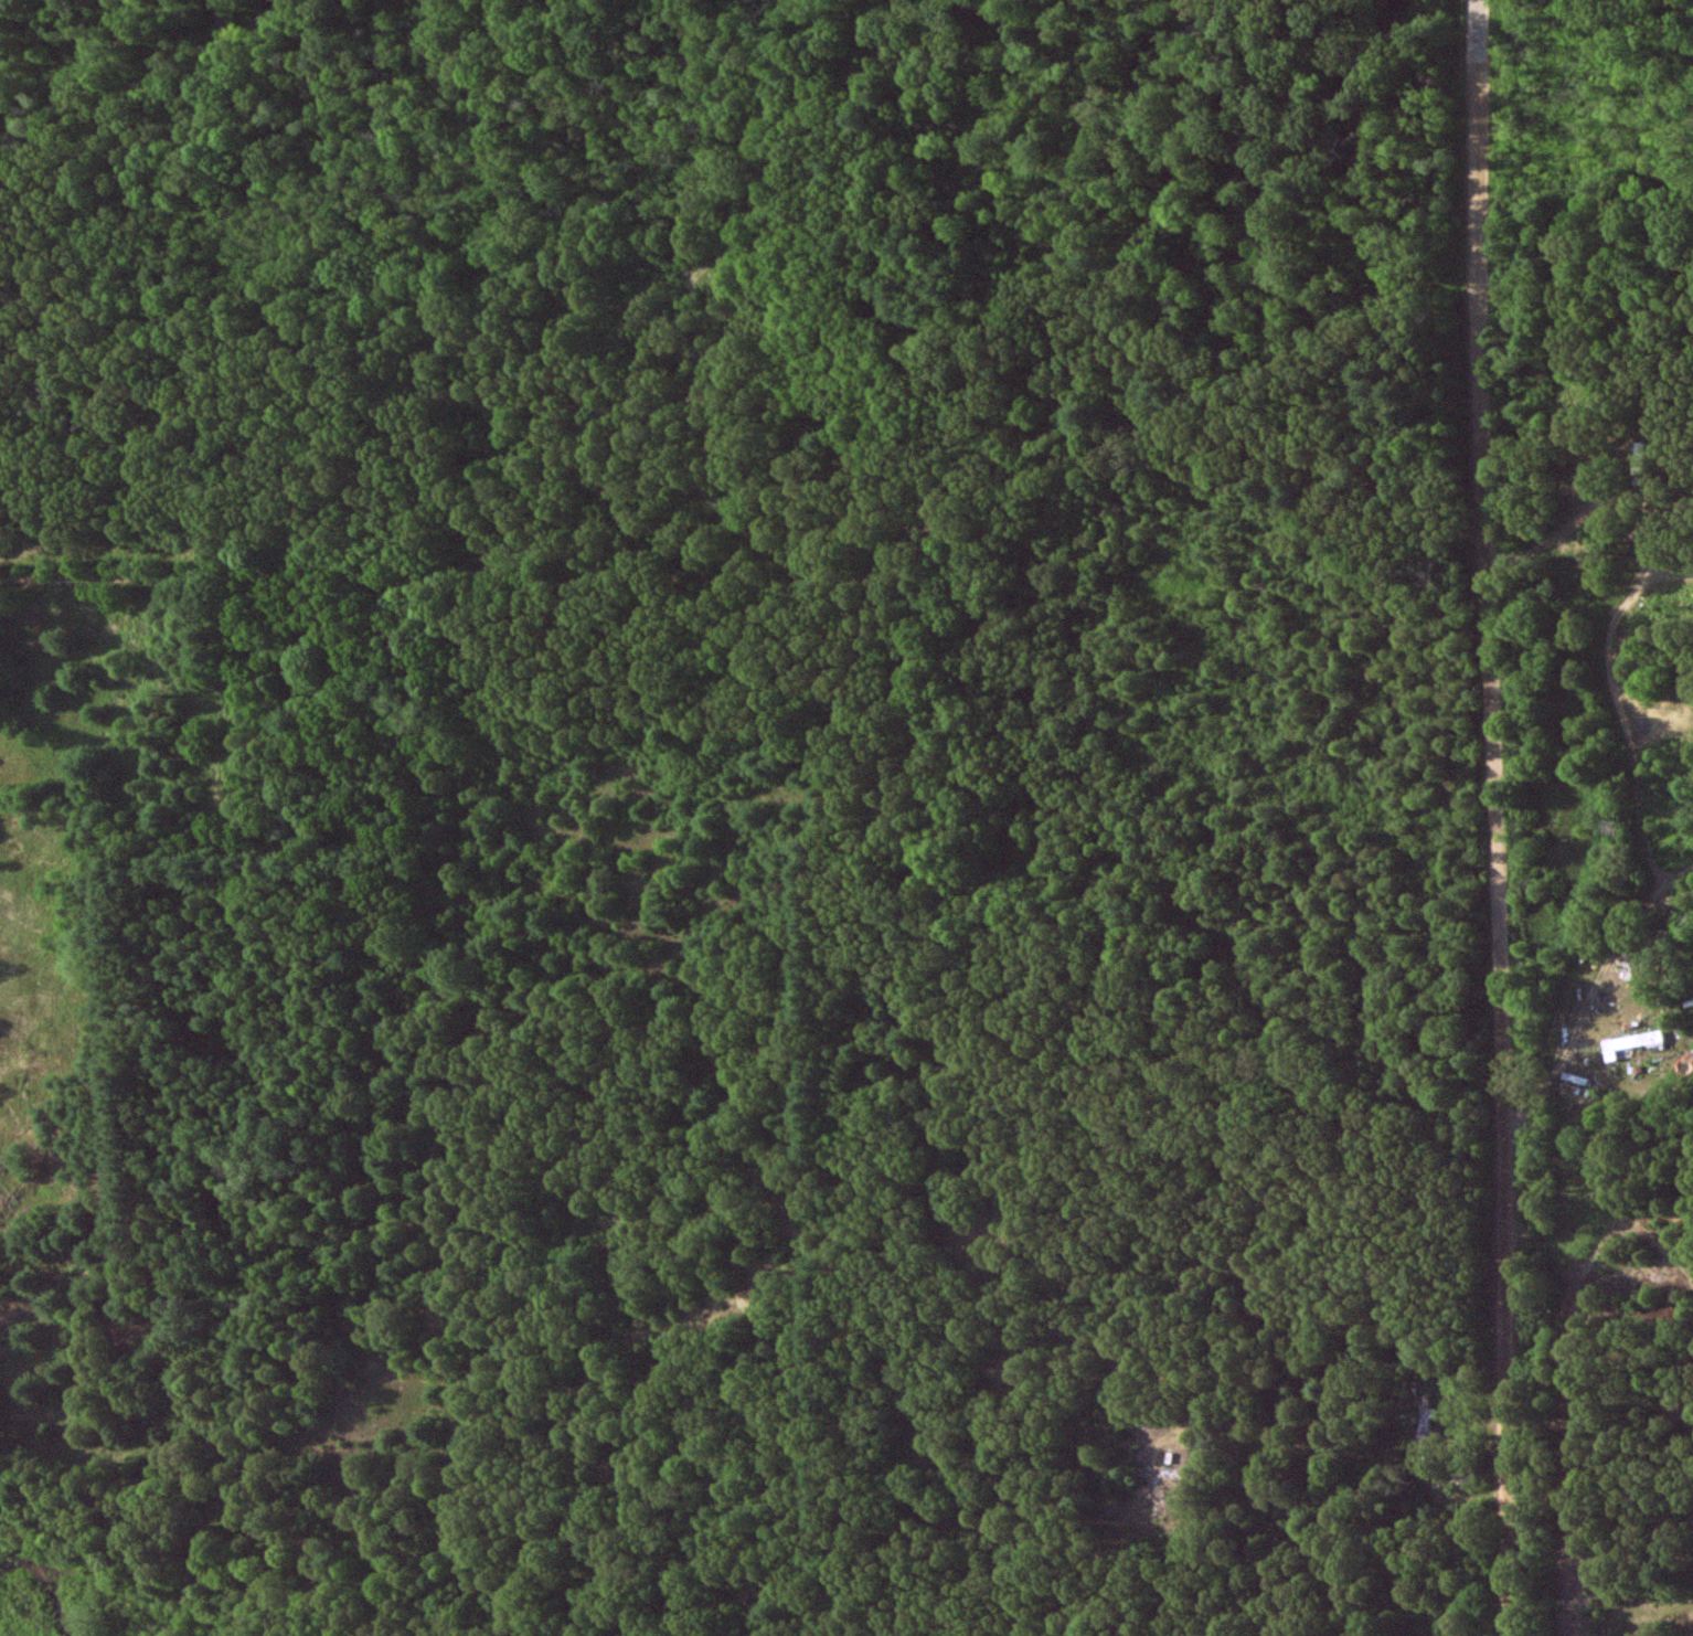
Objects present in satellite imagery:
road: (70, 578)
road: (1611, 628)
road: (1491, 818)
road: (1589, 1007)
building: (1631, 1043)

